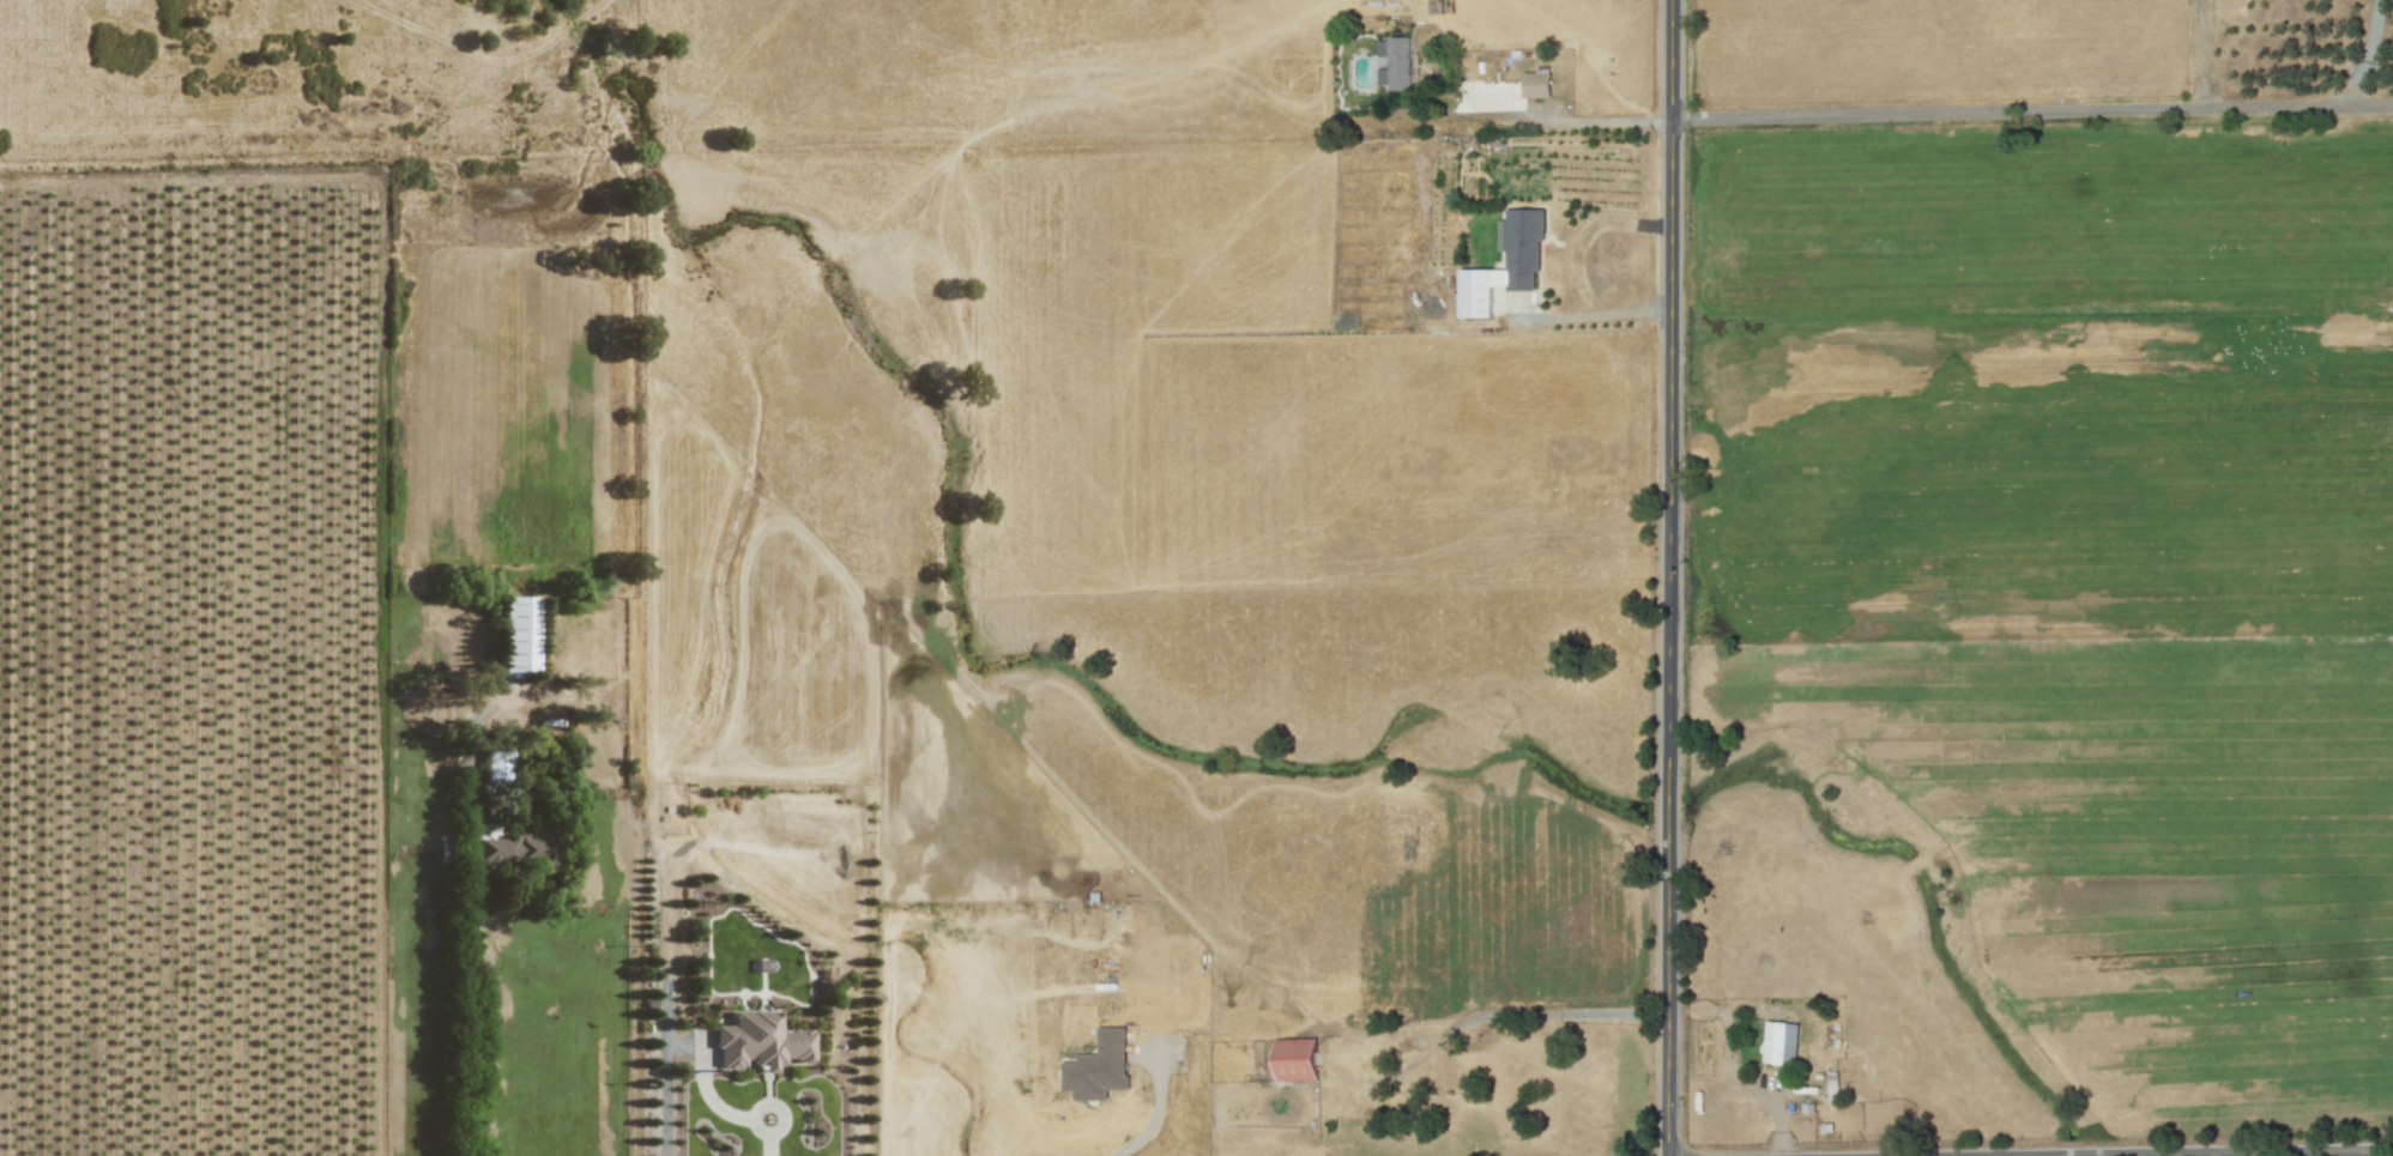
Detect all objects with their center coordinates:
road: (2199, 54)
road: (2367, 54)
building: (1396, 62)
building: (1536, 84)
road: (2034, 113)
road: (1575, 120)
building: (1523, 260)
road: (1595, 313)
road: (1672, 577)
building: (519, 635)
building: (497, 767)
building: (525, 846)
road: (1510, 1016)
road: (469, 1021)
building: (760, 1042)
building: (1782, 1042)
building: (1297, 1059)
building: (1099, 1066)
building: (1833, 1085)
road: (665, 1098)
road: (1158, 1110)
road: (2270, 1154)

